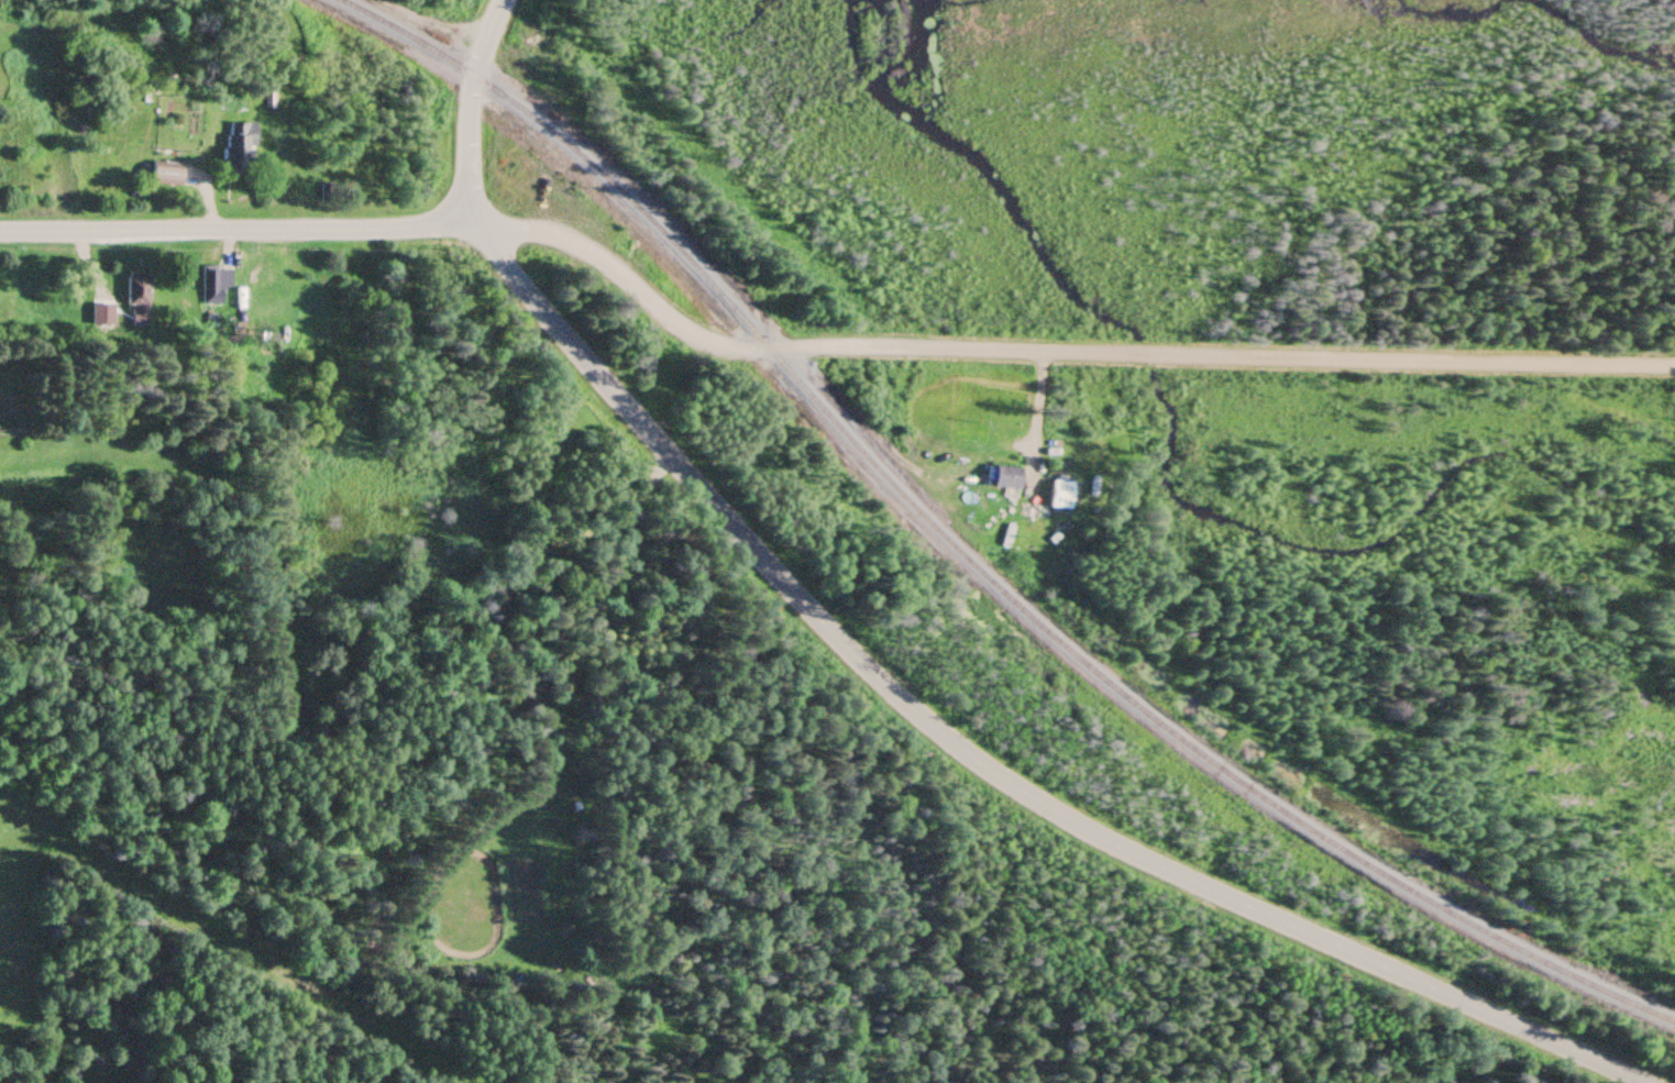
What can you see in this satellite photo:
road: (466, 107)
building: (239, 142)
building: (165, 175)
road: (235, 229)
building: (212, 285)
building: (131, 307)
road: (1054, 351)
building: (1004, 477)
building: (1048, 501)
railway: (967, 560)
road: (976, 759)

